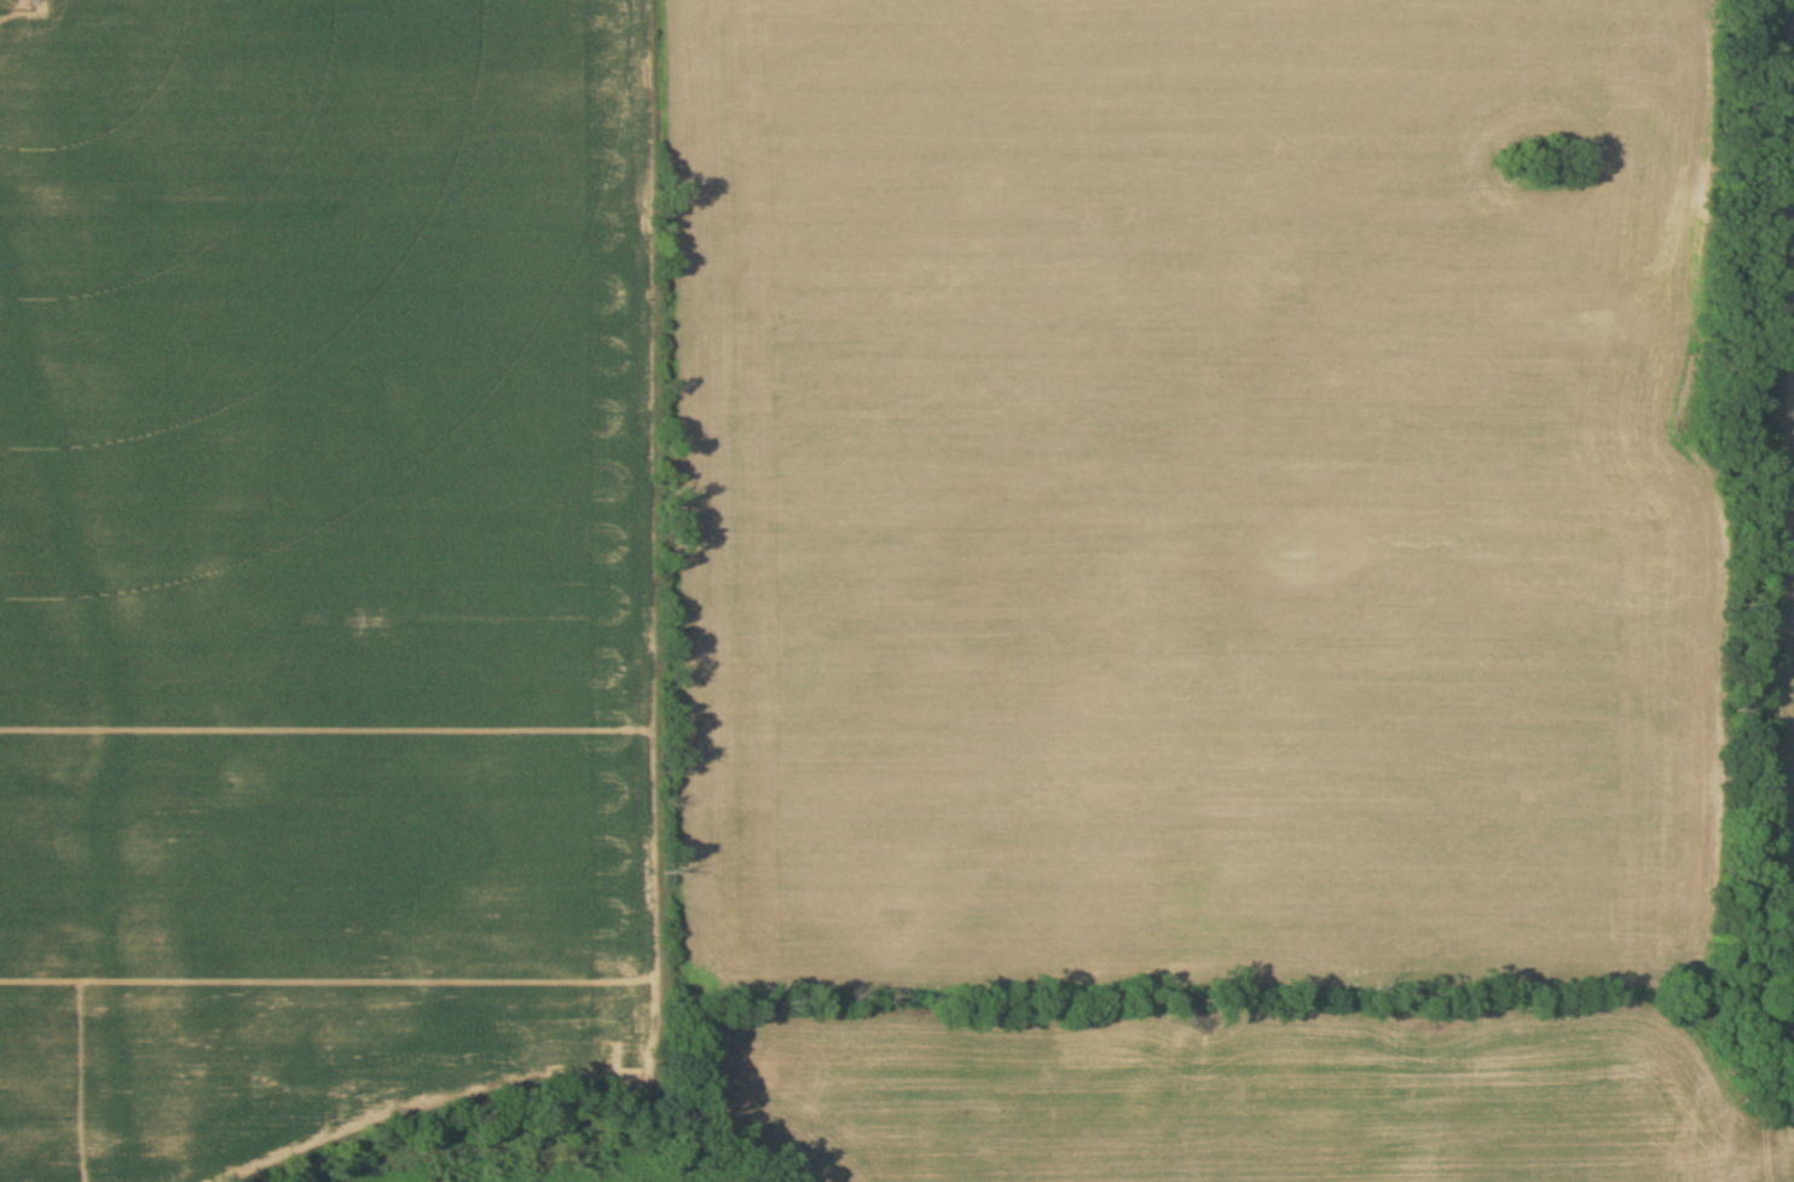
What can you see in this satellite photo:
road: (1749, 610)

